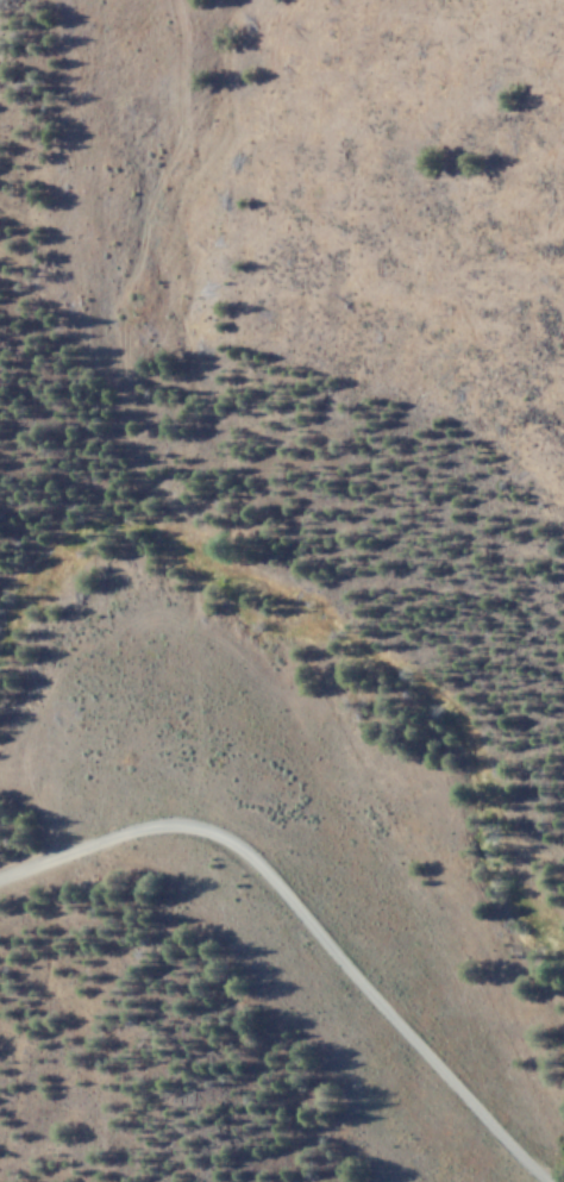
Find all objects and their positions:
road: (307, 921)

